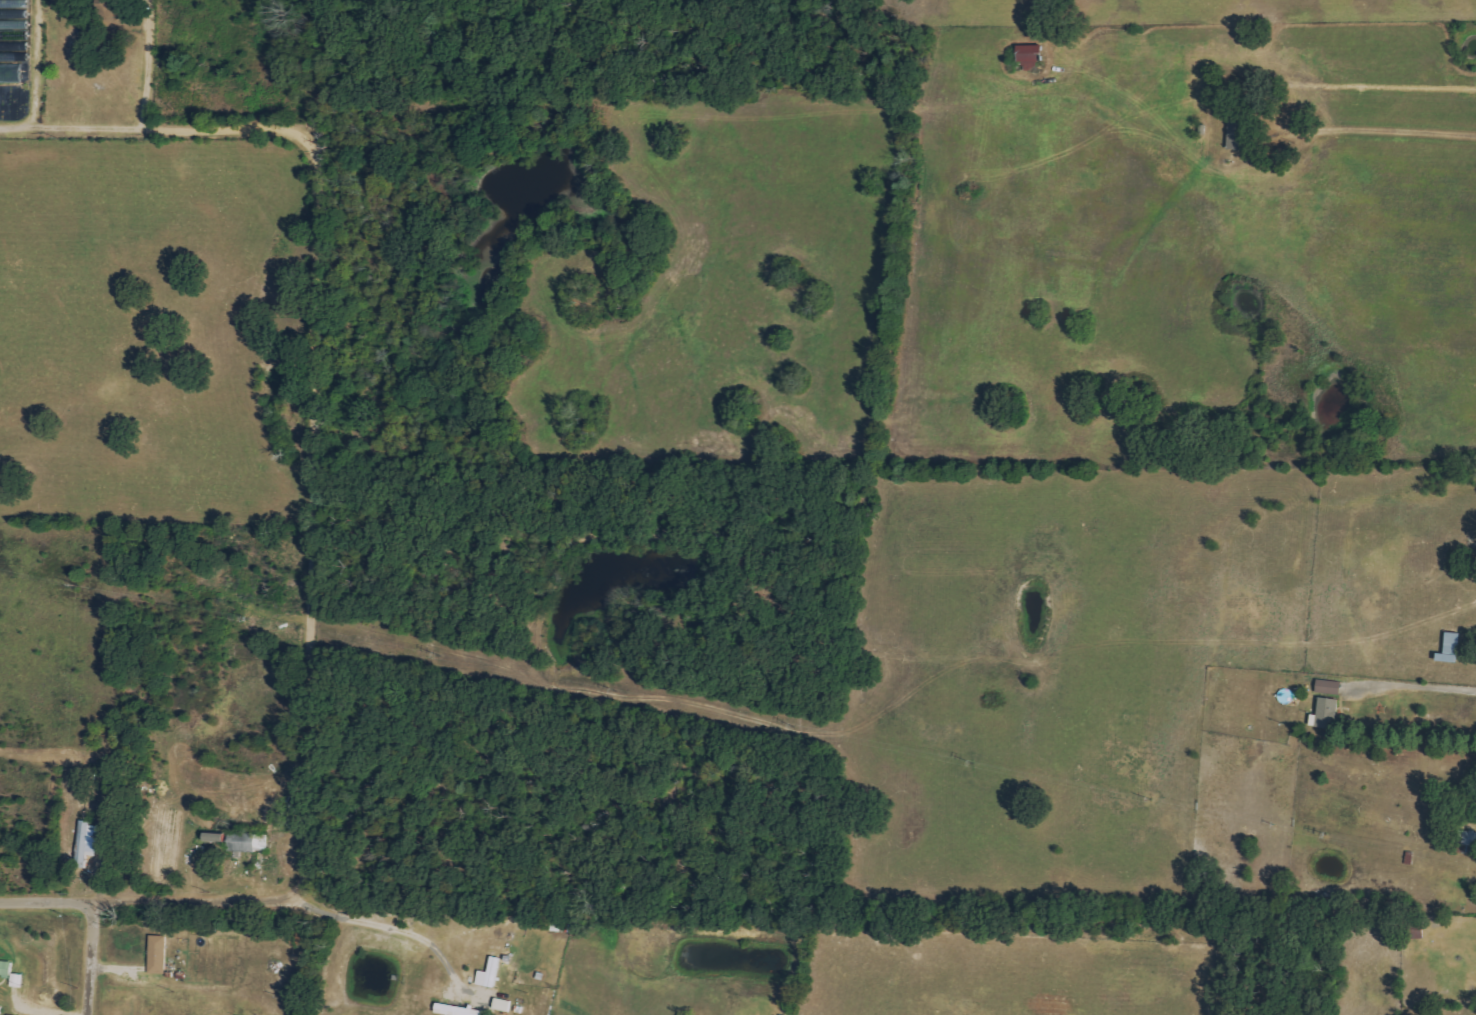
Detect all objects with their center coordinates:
building: (13, 39)
building: (1032, 57)
road: (70, 124)
building: (1241, 132)
road: (1391, 144)
road: (303, 466)
building: (1453, 648)
road: (1412, 684)
building: (1330, 687)
building: (1328, 713)
building: (217, 837)
building: (1468, 837)
building: (247, 841)
building: (85, 842)
road: (47, 900)
road: (385, 925)
building: (159, 954)
road: (91, 958)
building: (6, 968)
building: (504, 1005)
building: (458, 1010)

